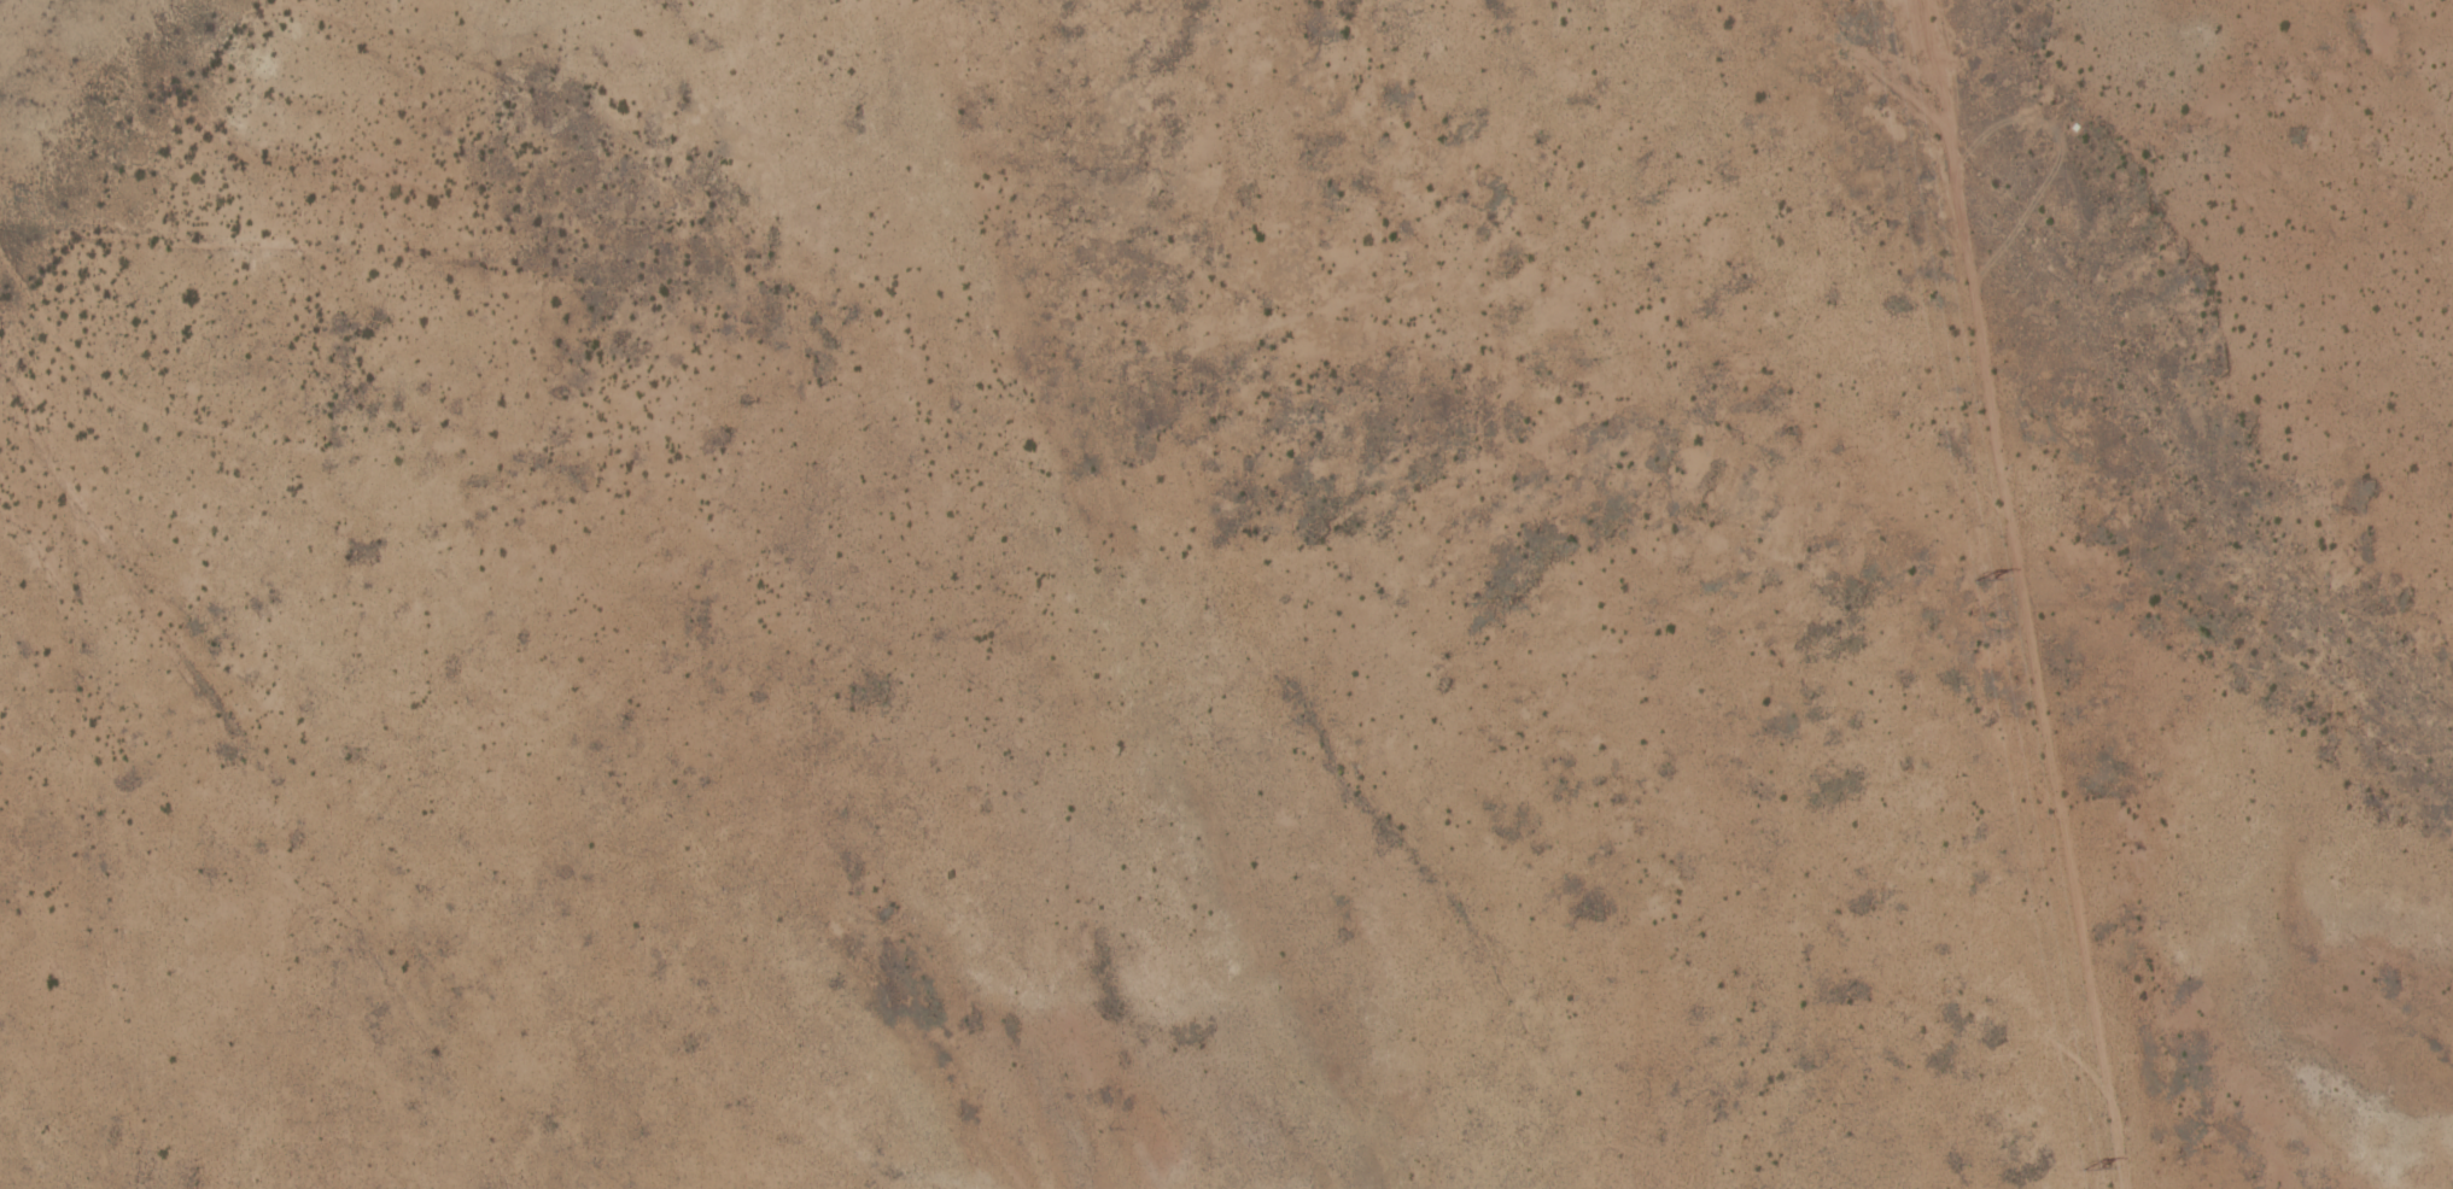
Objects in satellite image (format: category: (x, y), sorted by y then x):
power tower: (1986, 579)
road: (2134, 594)
power tower: (2095, 1173)

